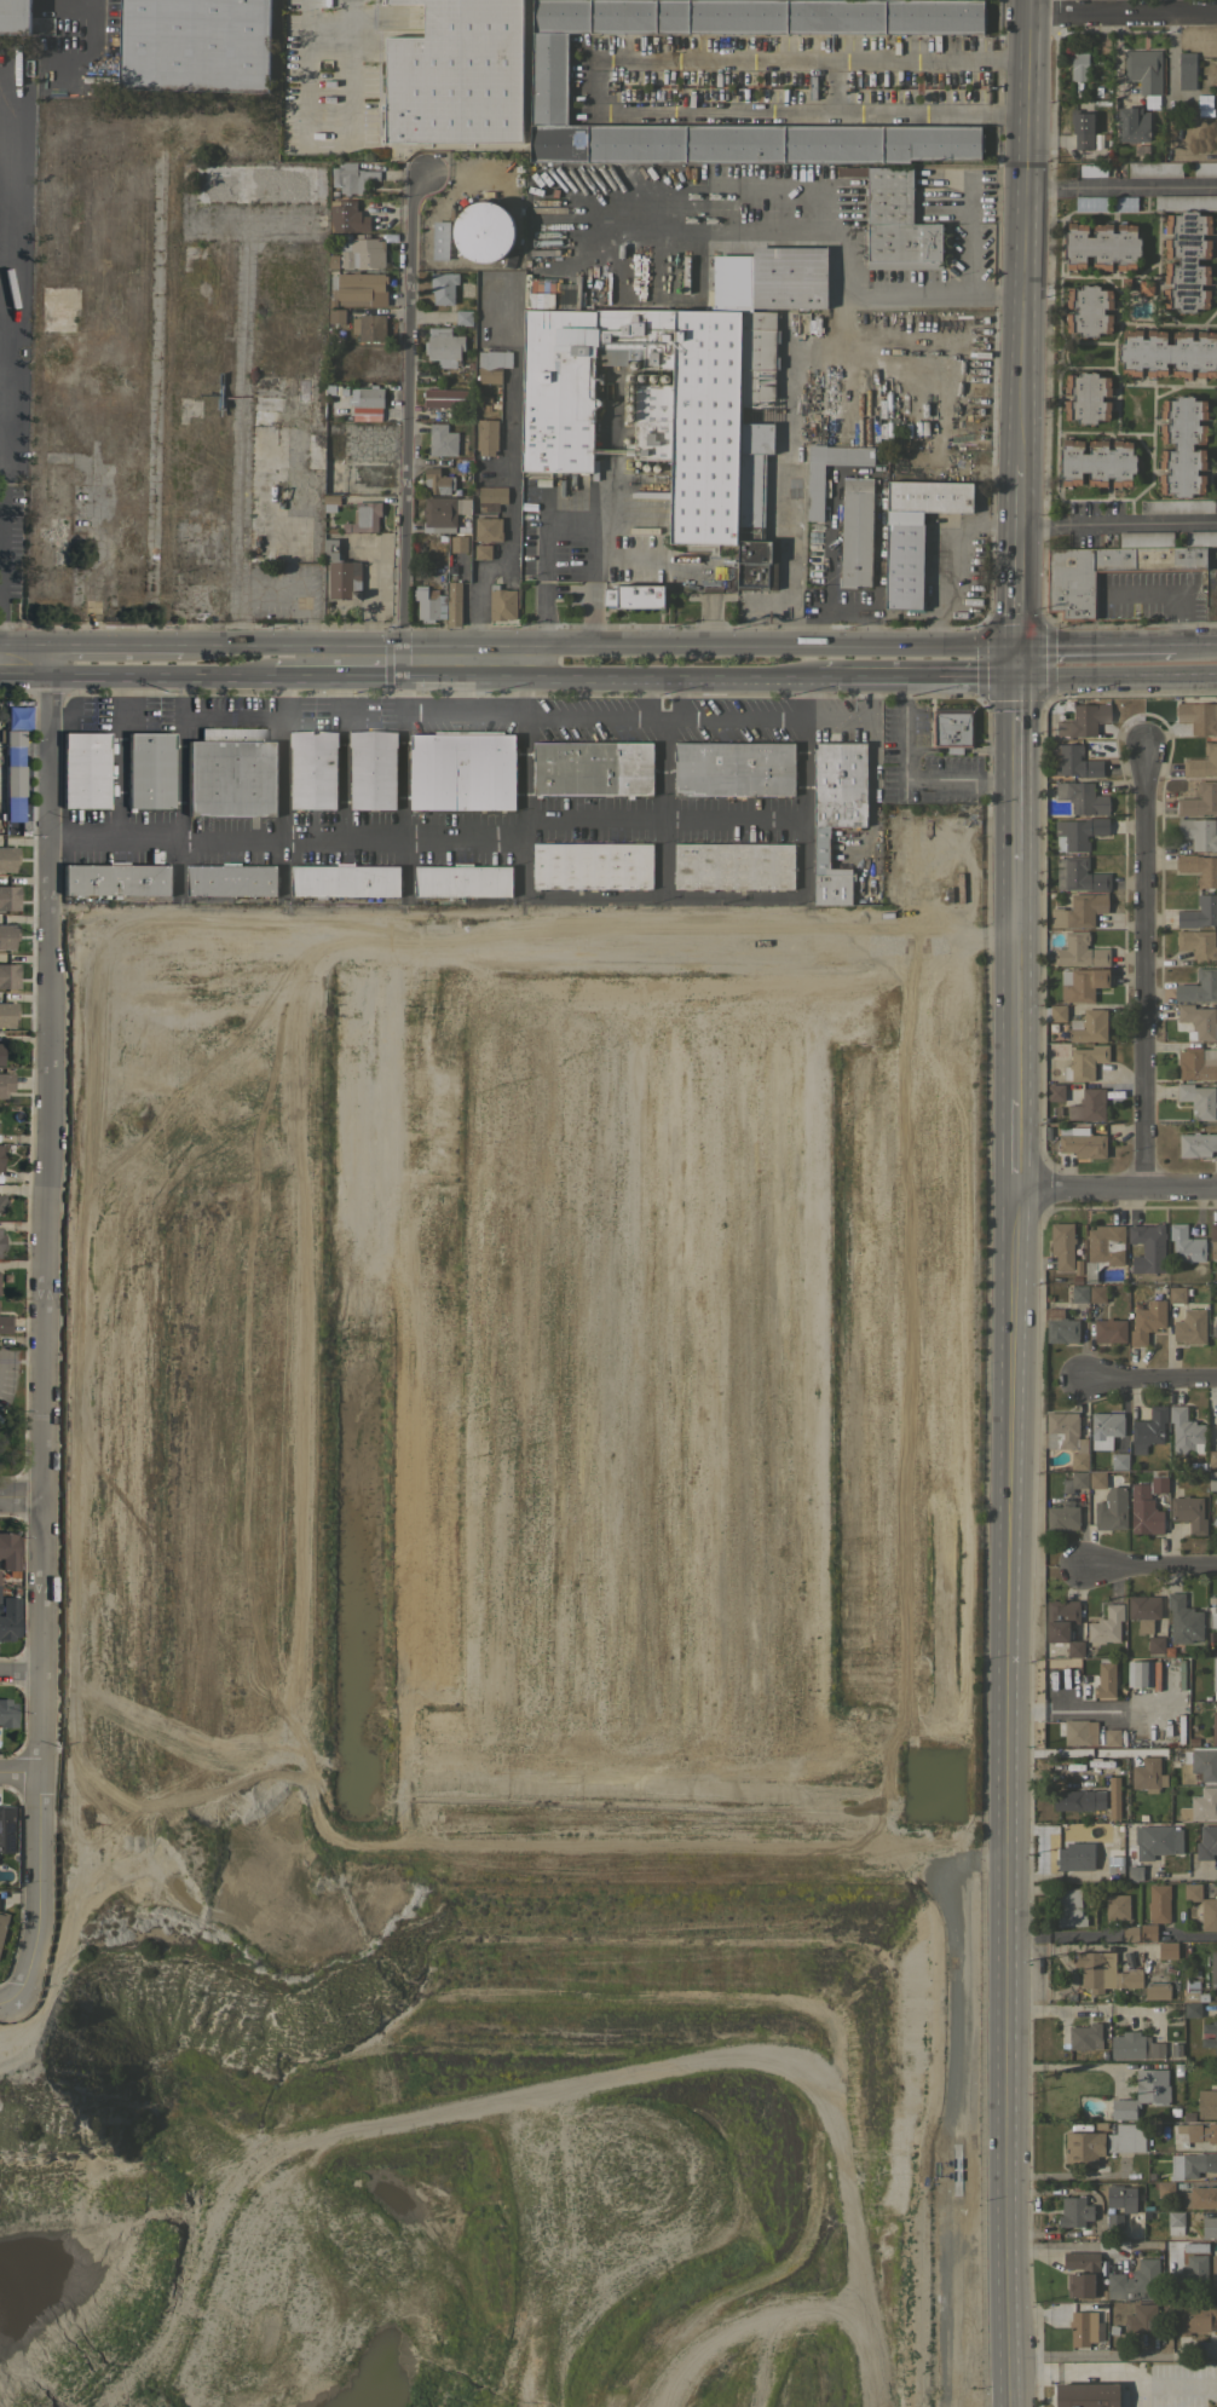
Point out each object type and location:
road: (1123, 12)
building: (15, 16)
building: (42, 24)
road: (81, 27)
building: (194, 45)
road: (812, 60)
building: (1079, 67)
building: (1186, 68)
road: (345, 71)
building: (1144, 73)
road: (302, 74)
building: (456, 75)
building: (548, 79)
road: (596, 83)
road: (811, 111)
building: (1132, 125)
building: (1082, 128)
building: (1205, 168)
building: (1154, 169)
building: (351, 177)
building: (259, 183)
road: (1120, 187)
building: (1186, 202)
building: (346, 217)
building: (895, 221)
road: (756, 227)
building: (483, 230)
storage tank: (483, 230)
road: (1023, 233)
building: (439, 239)
building: (1101, 246)
building: (358, 253)
building: (1187, 260)
building: (784, 276)
building: (443, 287)
building: (1144, 287)
building: (358, 289)
road: (942, 293)
building: (1089, 311)
building: (336, 316)
building: (463, 317)
building: (369, 327)
building: (634, 336)
road: (1, 341)
building: (443, 346)
building: (1167, 352)
building: (316, 362)
building: (491, 365)
building: (302, 388)
building: (336, 388)
building: (558, 391)
building: (446, 397)
building: (1086, 397)
building: (367, 402)
building: (651, 422)
building: (705, 426)
road: (404, 428)
building: (486, 435)
building: (442, 439)
building: (1182, 445)
road: (238, 446)
building: (755, 446)
building: (315, 450)
building: (1096, 462)
road: (511, 478)
building: (438, 480)
building: (264, 486)
building: (814, 492)
building: (491, 497)
building: (330, 502)
building: (1177, 504)
building: (444, 512)
building: (364, 516)
road: (569, 521)
road: (1117, 521)
building: (488, 529)
building: (856, 532)
building: (915, 535)
building: (1200, 537)
building: (52, 538)
building: (1144, 538)
building: (458, 543)
building: (481, 550)
road: (951, 555)
road: (646, 561)
building: (341, 572)
road: (1016, 572)
building: (1069, 590)
building: (635, 595)
building: (429, 602)
building: (454, 602)
building: (501, 602)
road: (0, 618)
road: (1193, 641)
traffic signals: (1015, 642)
road: (1092, 642)
road: (24, 645)
road: (598, 645)
road: (115, 646)
road: (48, 660)
road: (24, 675)
road: (81, 676)
road: (1115, 676)
road: (190, 677)
road: (333, 677)
road: (608, 679)
road: (916, 679)
traffic signals: (1014, 679)
road: (462, 711)
building: (1198, 716)
road: (231, 718)
building: (16, 720)
building: (1084, 720)
road: (664, 721)
building: (952, 728)
building: (13, 738)
road: (662, 749)
road: (525, 752)
road: (282, 756)
road: (115, 757)
road: (180, 757)
road: (345, 757)
road: (400, 757)
building: (1072, 761)
building: (1202, 762)
building: (592, 767)
building: (312, 768)
building: (733, 768)
building: (373, 769)
building: (462, 769)
road: (1014, 769)
building: (85, 770)
building: (149, 770)
building: (231, 773)
road: (910, 775)
building: (13, 780)
building: (1082, 797)
building: (1199, 800)
building: (836, 812)
building: (1078, 832)
building: (1198, 832)
road: (492, 835)
building: (7, 859)
building: (592, 865)
building: (733, 865)
building: (1199, 867)
building: (1079, 875)
building: (116, 879)
building: (231, 879)
building: (344, 879)
building: (462, 879)
building: (8, 897)
building: (1079, 911)
building: (1199, 912)
building: (7, 935)
building: (1198, 943)
building: (1079, 951)
road: (1140, 965)
building: (8, 976)
building: (1082, 983)
building: (1199, 986)
building: (1057, 1012)
building: (6, 1014)
building: (1199, 1020)
building: (1089, 1026)
building: (0, 1054)
building: (1084, 1062)
building: (1193, 1064)
building: (5, 1084)
building: (1055, 1091)
building: (1198, 1099)
building: (1089, 1104)
building: (1083, 1143)
building: (1196, 1143)
building: (0, 1156)
road: (1115, 1185)
building: (1, 1202)
building: (1212, 1236)
building: (1148, 1241)
building: (1, 1242)
building: (1186, 1243)
building: (1062, 1245)
building: (1103, 1248)
building: (1077, 1265)
building: (1075, 1278)
building: (1079, 1293)
building: (1097, 1293)
building: (1177, 1294)
building: (1048, 1297)
building: (1147, 1320)
building: (5, 1323)
building: (1060, 1326)
building: (1190, 1327)
building: (1215, 1327)
building: (1109, 1331)
road: (40, 1341)
road: (1147, 1380)
park: (13, 1412)
building: (1216, 1425)
building: (1104, 1428)
building: (1147, 1430)
building: (1186, 1432)
building: (1065, 1436)
building: (1216, 1442)
building: (1212, 1459)
building: (1119, 1461)
building: (1097, 1479)
building: (1074, 1480)
building: (1212, 1480)
road: (19, 1495)
building: (1215, 1499)
building: (1147, 1503)
building: (1111, 1508)
building: (1216, 1508)
building: (1188, 1512)
building: (1062, 1517)
building: (1215, 1520)
building: (8, 1552)
road: (1150, 1563)
building: (1143, 1611)
building: (8, 1617)
building: (1061, 1618)
building: (1212, 1618)
building: (1183, 1620)
building: (1106, 1624)
road: (1011, 1634)
building: (1155, 1644)
building: (1074, 1649)
quarry: (457, 1661)
road: (19, 1667)
building: (1140, 1673)
building: (1213, 1675)
building: (1104, 1678)
road: (1086, 1708)
building: (7, 1713)
building: (1213, 1727)
building: (1079, 1732)
building: (1130, 1733)
building: (1112, 1737)
building: (1202, 1762)
road: (18, 1774)
building: (1147, 1774)
building: (1113, 1799)
building: (1072, 1800)
building: (1200, 1805)
building: (1142, 1816)
building: (6, 1829)
building: (1118, 1834)
building: (1206, 1842)
building: (1154, 1853)
building: (1073, 1854)
road: (1183, 1875)
building: (1192, 1891)
building: (1158, 1903)
building: (1117, 1906)
building: (1069, 1907)
building: (1209, 1914)
building: (2, 1924)
building: (1130, 1933)
building: (1148, 1933)
road: (1060, 1934)
road: (1192, 1935)
building: (1141, 1946)
building: (1163, 1952)
building: (1213, 1967)
building: (1104, 1972)
building: (1216, 1991)
building: (1157, 1992)
building: (1190, 1996)
road: (6, 2005)
building: (1192, 2009)
road: (1086, 2011)
building: (1215, 2034)
building: (1085, 2036)
building: (1129, 2045)
building: (1157, 2049)
building: (1175, 2049)
building: (1178, 2068)
building: (1142, 2093)
building: (1207, 2103)
building: (1189, 2117)
building: (1100, 2125)
building: (1199, 2131)
building: (1126, 2137)
building: (1084, 2147)
building: (1198, 2163)
building: (1150, 2175)
building: (1165, 2188)
building: (1200, 2197)
building: (1121, 2198)
building: (1148, 2207)
building: (1074, 2211)
building: (1153, 2213)
building: (1113, 2220)
building: (1175, 2222)
building: (1209, 2227)
road: (1095, 2246)
building: (1213, 2270)
building: (1083, 2273)
building: (1189, 2273)
building: (1135, 2281)
building: (1141, 2317)
building: (1194, 2317)
building: (1082, 2327)
building: (1113, 2330)
road: (1112, 2353)
building: (1086, 2395)

